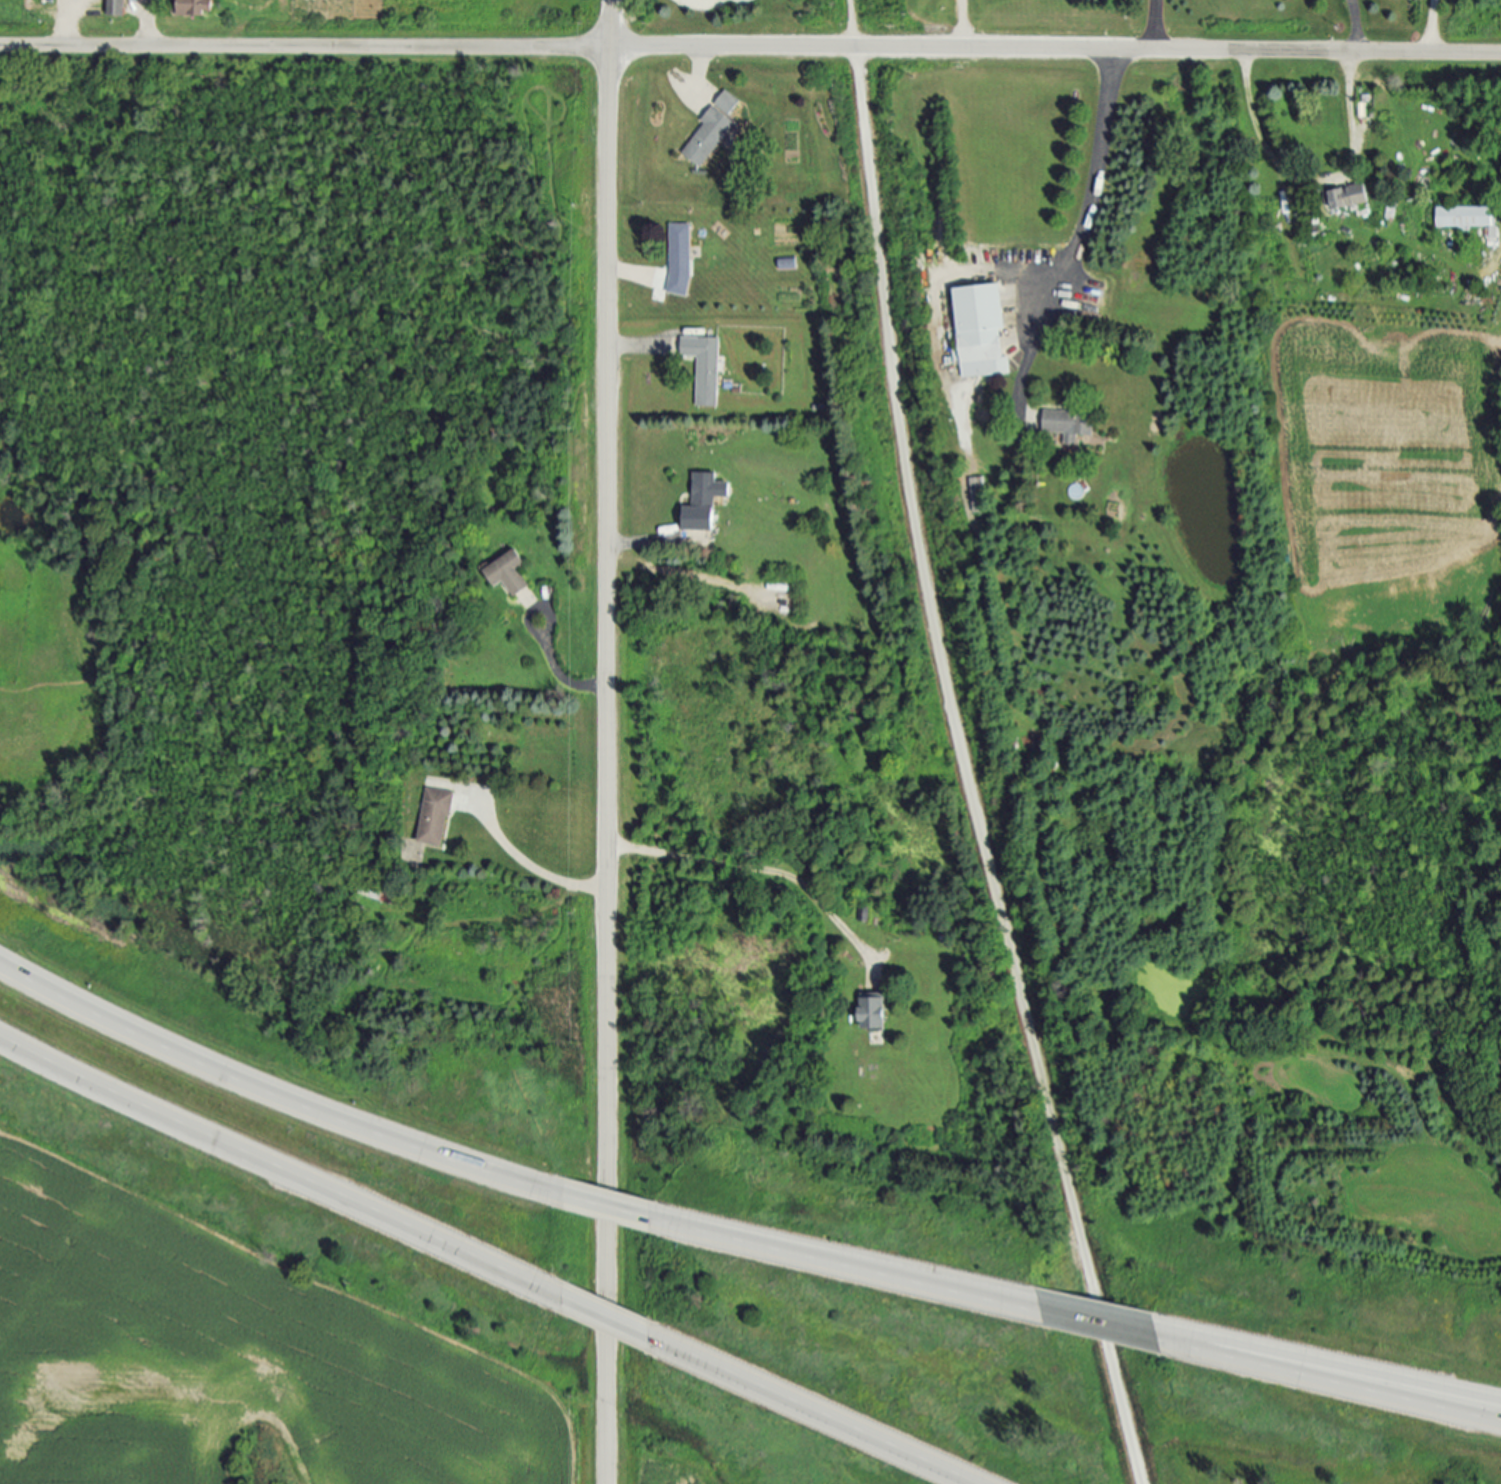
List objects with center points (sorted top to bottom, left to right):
road: (712, 1)
building: (119, 7)
building: (195, 8)
road: (65, 23)
road: (152, 23)
road: (611, 24)
road: (962, 24)
road: (1151, 25)
road: (1429, 27)
road: (750, 48)
building: (710, 132)
road: (1334, 173)
building: (1347, 199)
road: (1092, 202)
building: (1465, 217)
building: (680, 249)
road: (628, 265)
building: (982, 332)
road: (632, 346)
building: (704, 369)
building: (1072, 424)
building: (708, 501)
road: (640, 539)
building: (510, 573)
road: (560, 672)
road: (964, 747)
road: (607, 765)
building: (437, 816)
road: (530, 867)
road: (754, 873)
building: (382, 893)
building: (878, 1012)
road: (272, 1097)
road: (280, 1165)
road: (614, 1216)
road: (835, 1266)
road: (1086, 1319)
road: (619, 1329)
road: (1337, 1369)
road: (1337, 1379)
road: (824, 1420)

